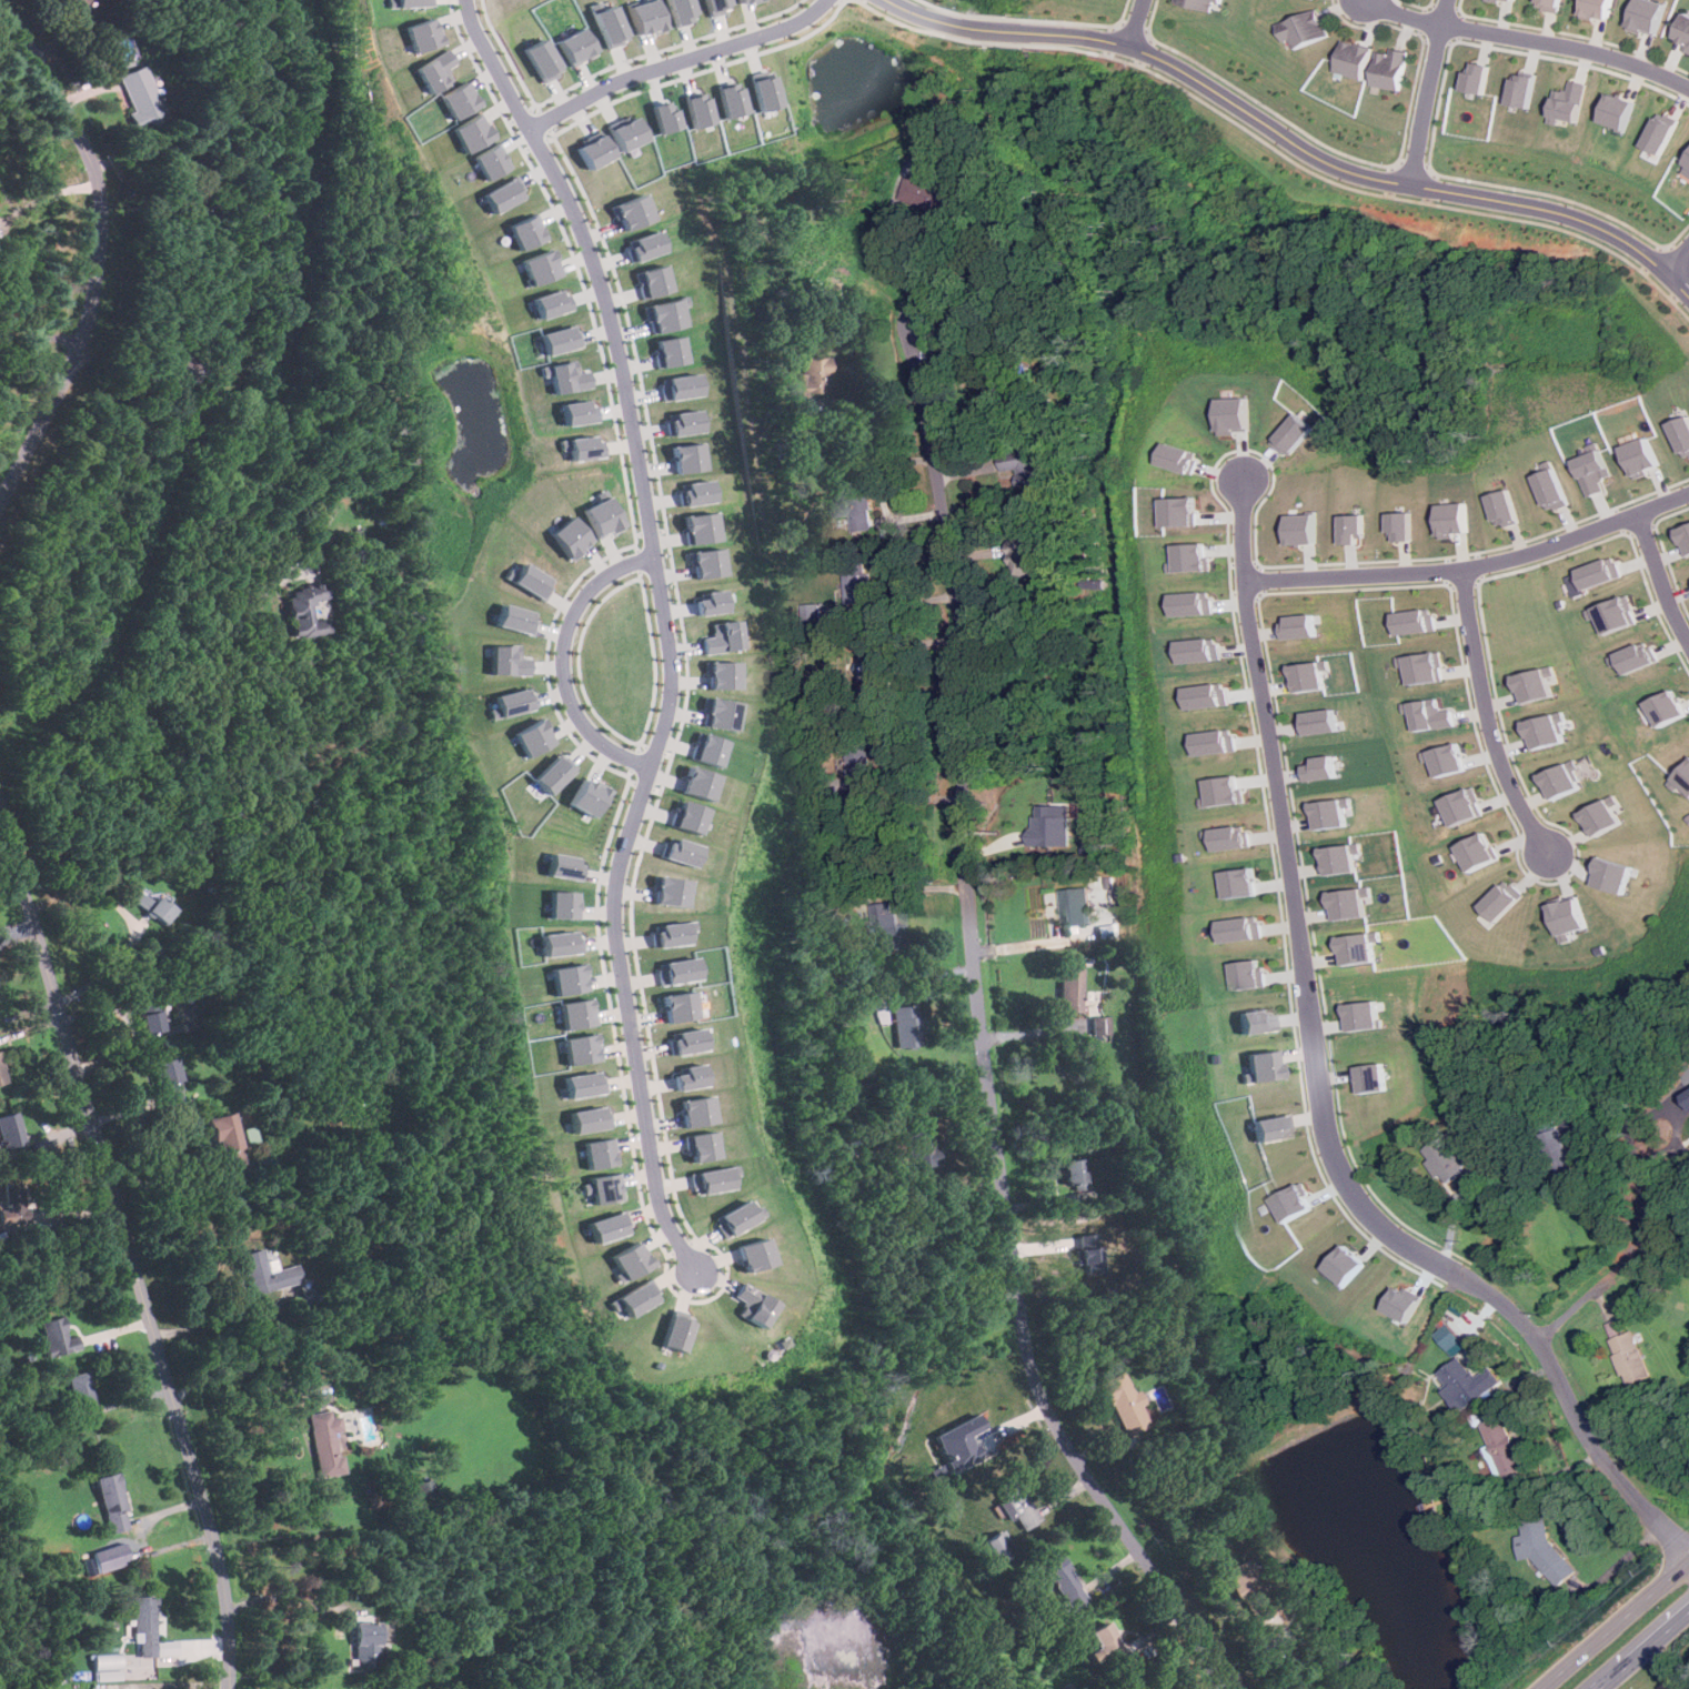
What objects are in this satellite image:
building: (1507, 0)
building: (743, 1)
building: (408, 2)
building: (73, 3)
building: (1203, 3)
building: (1542, 4)
building: (714, 6)
building: (1591, 8)
building: (678, 10)
building: (1641, 16)
building: (644, 17)
road: (934, 18)
road: (1135, 22)
building: (609, 26)
building: (1304, 28)
building: (1682, 31)
road: (1001, 32)
building: (421, 34)
road: (1527, 40)
building: (576, 47)
building: (1350, 59)
building: (543, 60)
road: (680, 60)
building: (1386, 68)
building: (434, 71)
building: (1472, 77)
building: (1517, 90)
building: (766, 91)
road: (1420, 92)
building: (140, 97)
building: (732, 99)
building: (458, 100)
building: (1564, 103)
building: (698, 109)
building: (1613, 111)
building: (663, 115)
building: (473, 132)
building: (1658, 132)
building: (625, 133)
building: (594, 151)
building: (493, 161)
building: (1687, 161)
road: (1351, 175)
road: (46, 194)
building: (507, 194)
building: (932, 195)
building: (197, 205)
building: (632, 211)
building: (532, 231)
building: (647, 245)
road: (99, 248)
road: (903, 263)
road: (1680, 263)
building: (544, 267)
building: (655, 281)
building: (557, 302)
building: (670, 314)
building: (565, 339)
road: (33, 343)
building: (674, 351)
building: (178, 362)
building: (569, 376)
building: (807, 380)
building: (684, 386)
building: (996, 392)
building: (582, 412)
building: (1237, 414)
building: (686, 422)
building: (1296, 434)
building: (1683, 434)
building: (583, 446)
building: (1643, 456)
building: (690, 458)
building: (1187, 458)
building: (1027, 464)
building: (1596, 471)
building: (1555, 489)
building: (697, 492)
road: (884, 492)
road: (1, 493)
building: (854, 502)
building: (1507, 506)
building: (1190, 512)
building: (601, 517)
building: (1457, 519)
building: (1406, 525)
building: (701, 527)
building: (1358, 527)
building: (1309, 529)
building: (1685, 536)
building: (569, 537)
building: (1028, 556)
building: (1200, 557)
building: (707, 562)
road: (1426, 570)
building: (1599, 574)
road: (1662, 574)
building: (525, 580)
building: (857, 583)
building: (710, 602)
building: (1202, 603)
building: (304, 610)
building: (1619, 614)
building: (512, 619)
building: (813, 621)
building: (1422, 621)
road: (664, 626)
building: (1307, 626)
building: (721, 636)
building: (1206, 650)
road: (560, 656)
building: (1637, 657)
building: (504, 660)
building: (878, 664)
building: (1429, 666)
building: (720, 674)
building: (1313, 675)
building: (1539, 684)
building: (1212, 695)
building: (510, 702)
building: (1665, 707)
road: (1489, 712)
building: (718, 713)
building: (1434, 714)
building: (1319, 722)
building: (1546, 731)
building: (531, 736)
building: (1218, 742)
road: (195, 746)
building: (704, 748)
building: (862, 757)
building: (1448, 758)
building: (1321, 767)
building: (552, 772)
building: (1560, 778)
building: (1680, 778)
building: (694, 783)
building: (1225, 791)
building: (586, 796)
building: (1462, 806)
building: (1330, 813)
building: (1597, 815)
building: (682, 816)
building: (1052, 825)
building: (1230, 837)
building: (674, 851)
building: (1476, 851)
building: (1338, 858)
building: (561, 866)
building: (1603, 874)
building: (1241, 883)
building: (663, 891)
building: (1498, 899)
building: (1346, 903)
building: (560, 904)
building: (150, 905)
building: (1075, 906)
building: (1561, 917)
building: (887, 926)
building: (1243, 928)
building: (667, 932)
building: (556, 943)
building: (1353, 947)
road: (102, 967)
building: (670, 969)
building: (1251, 974)
building: (565, 978)
building: (1070, 989)
building: (672, 1005)
building: (572, 1013)
building: (1359, 1015)
building: (1254, 1019)
building: (151, 1022)
building: (907, 1026)
building: (1102, 1027)
road: (981, 1033)
building: (682, 1040)
building: (576, 1048)
building: (1259, 1066)
building: (0, 1068)
building: (685, 1076)
building: (1367, 1076)
building: (168, 1083)
building: (582, 1084)
building: (1687, 1094)
building: (692, 1110)
building: (587, 1118)
building: (1268, 1127)
building: (10, 1130)
road: (1328, 1137)
building: (225, 1142)
building: (697, 1145)
building: (921, 1149)
building: (599, 1153)
building: (1556, 1156)
building: (1446, 1157)
road: (184, 1168)
building: (1074, 1175)
building: (710, 1179)
building: (601, 1188)
building: (12, 1203)
building: (1296, 1203)
building: (734, 1217)
building: (609, 1226)
road: (128, 1248)
building: (1086, 1251)
road: (1627, 1253)
building: (751, 1254)
building: (627, 1260)
building: (1347, 1265)
building: (265, 1273)
building: (632, 1298)
building: (748, 1304)
building: (1404, 1304)
building: (671, 1333)
building: (58, 1338)
building: (1449, 1339)
building: (1626, 1353)
road: (238, 1373)
building: (1466, 1383)
building: (82, 1396)
building: (1157, 1397)
building: (1124, 1404)
building: (959, 1441)
building: (326, 1442)
building: (1500, 1446)
building: (1017, 1501)
building: (112, 1502)
building: (996, 1547)
building: (1542, 1547)
building: (109, 1557)
road: (1620, 1560)
building: (1241, 1576)
building: (1064, 1581)
road: (282, 1594)
road: (1615, 1625)
building: (144, 1626)
building: (366, 1645)
building: (1110, 1648)
road: (1643, 1649)
building: (107, 1666)

